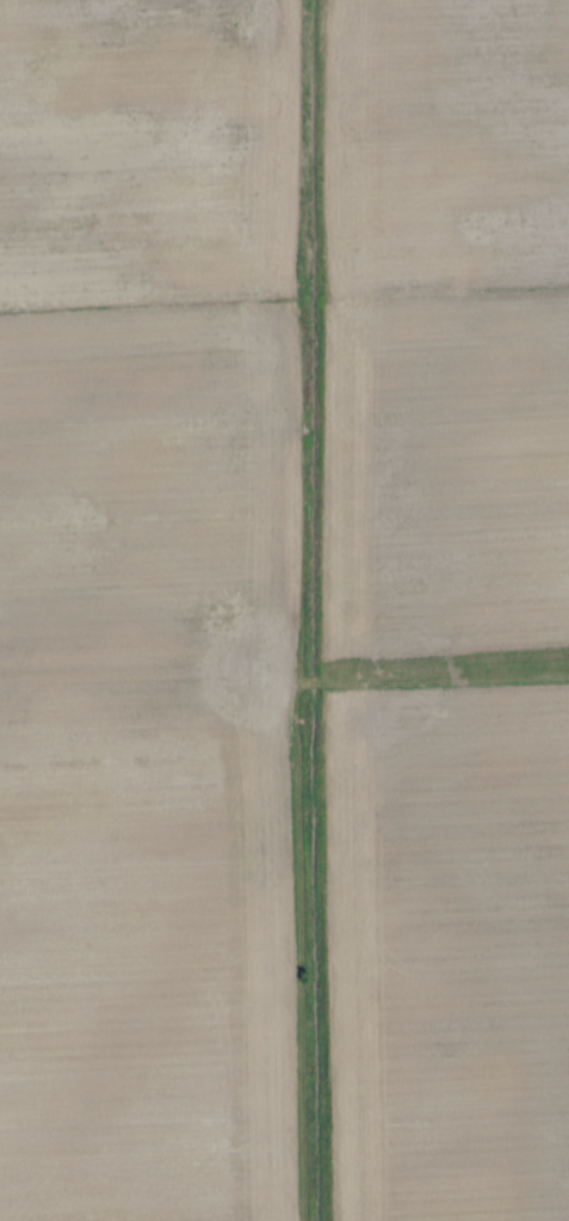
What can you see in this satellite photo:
crop: (284, 610)

